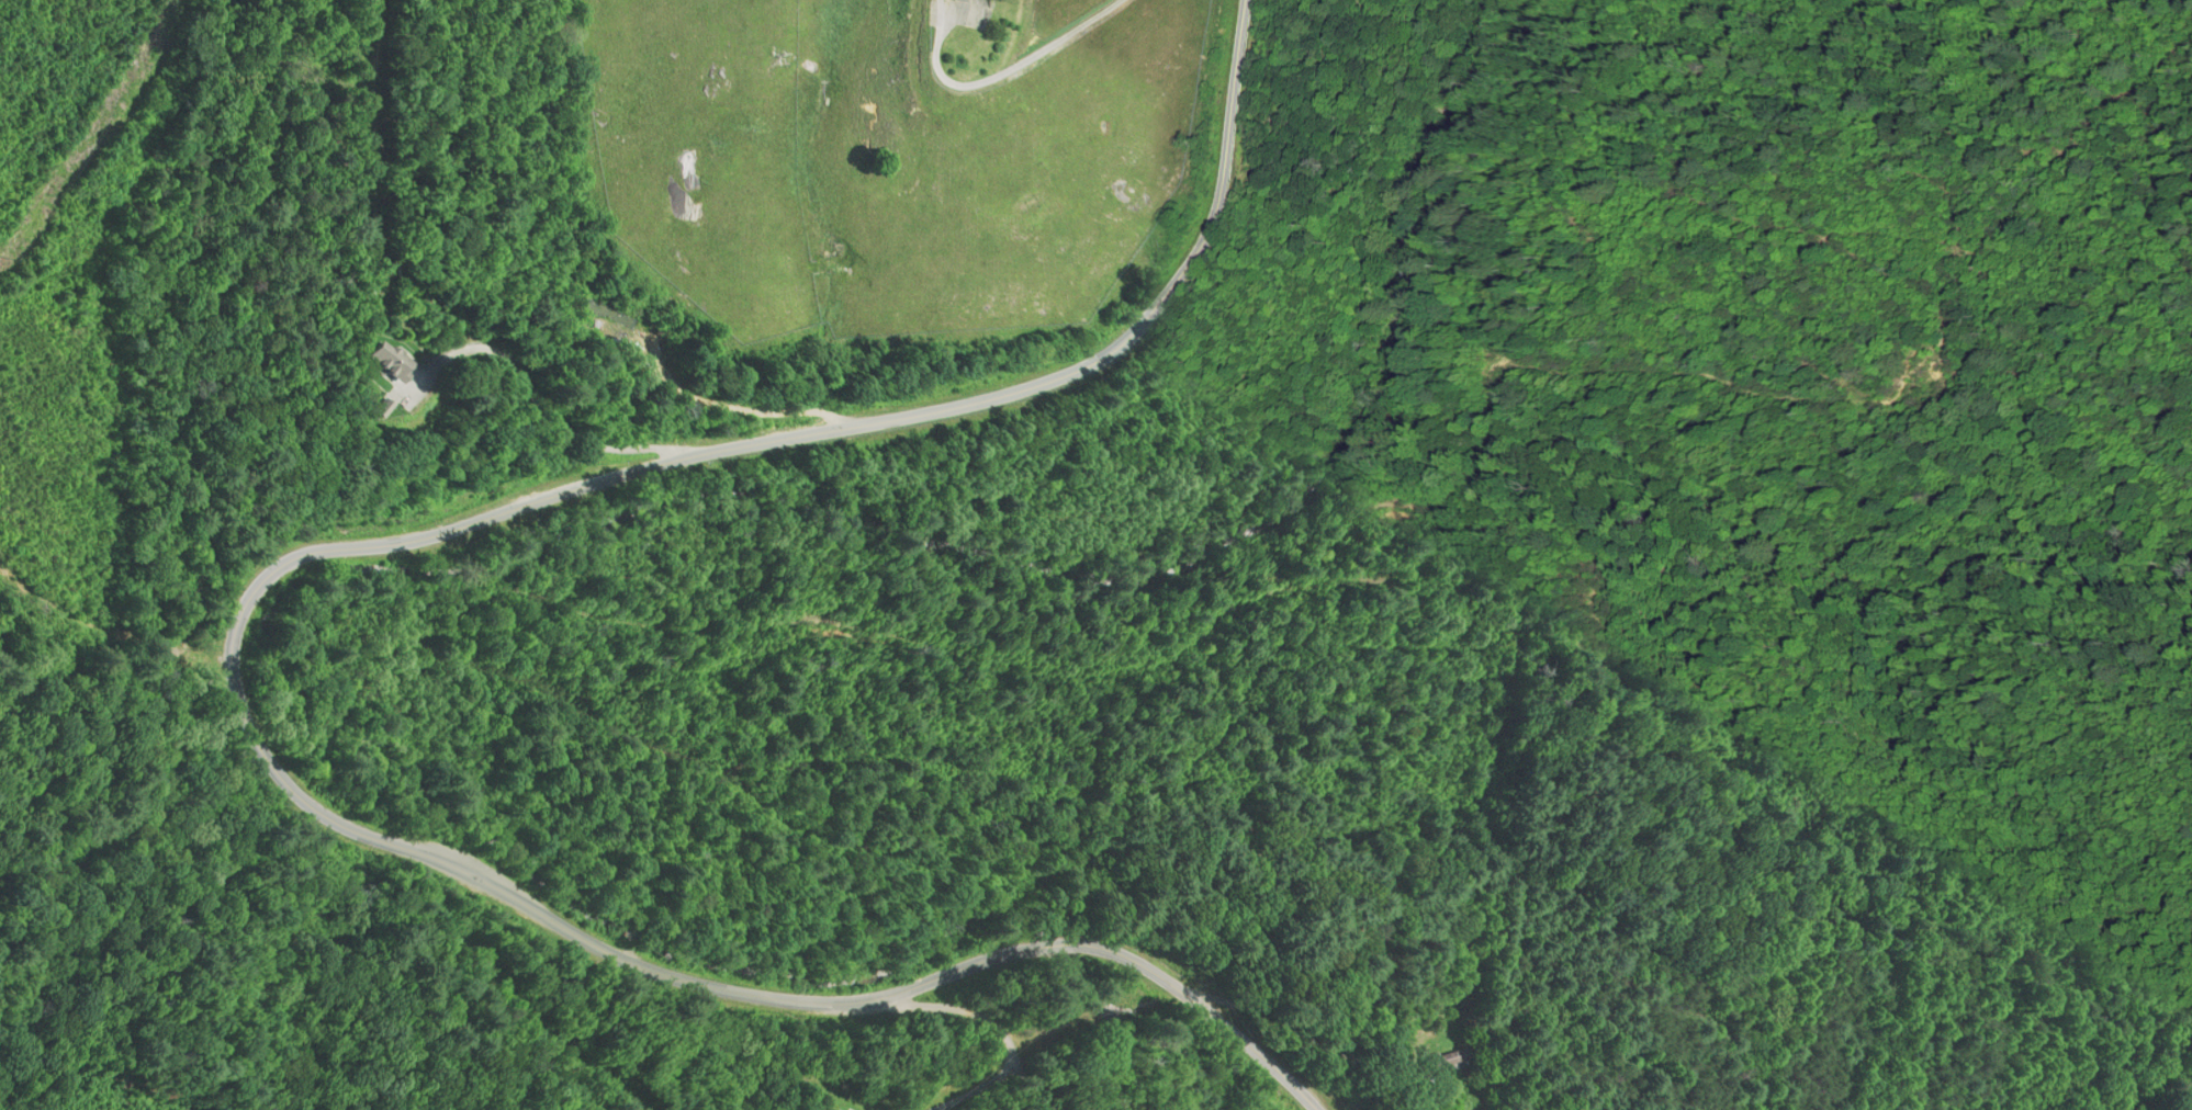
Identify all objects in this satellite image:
road: (999, 72)
building: (383, 361)
road: (540, 399)
road: (236, 623)
road: (313, 997)
building: (1442, 1057)
building: (822, 1107)

